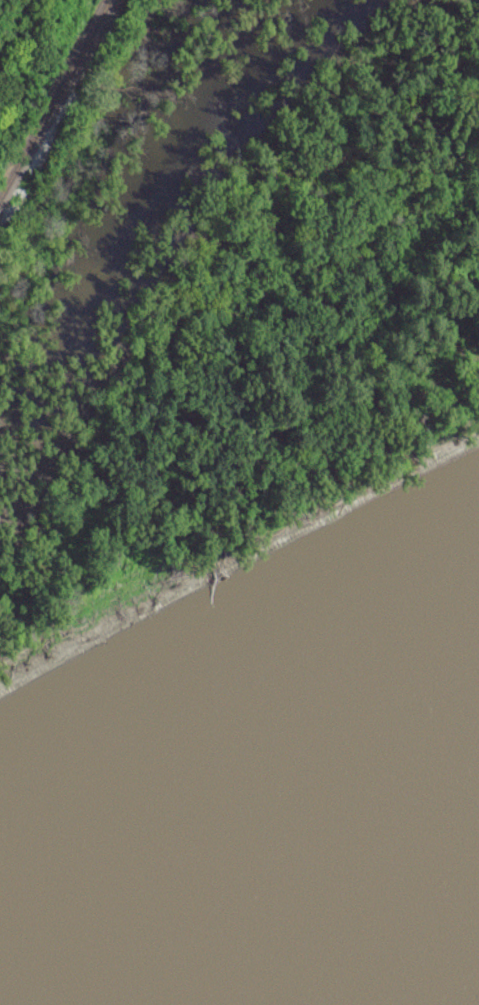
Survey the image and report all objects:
railway: (53, 97)
park: (225, 296)

